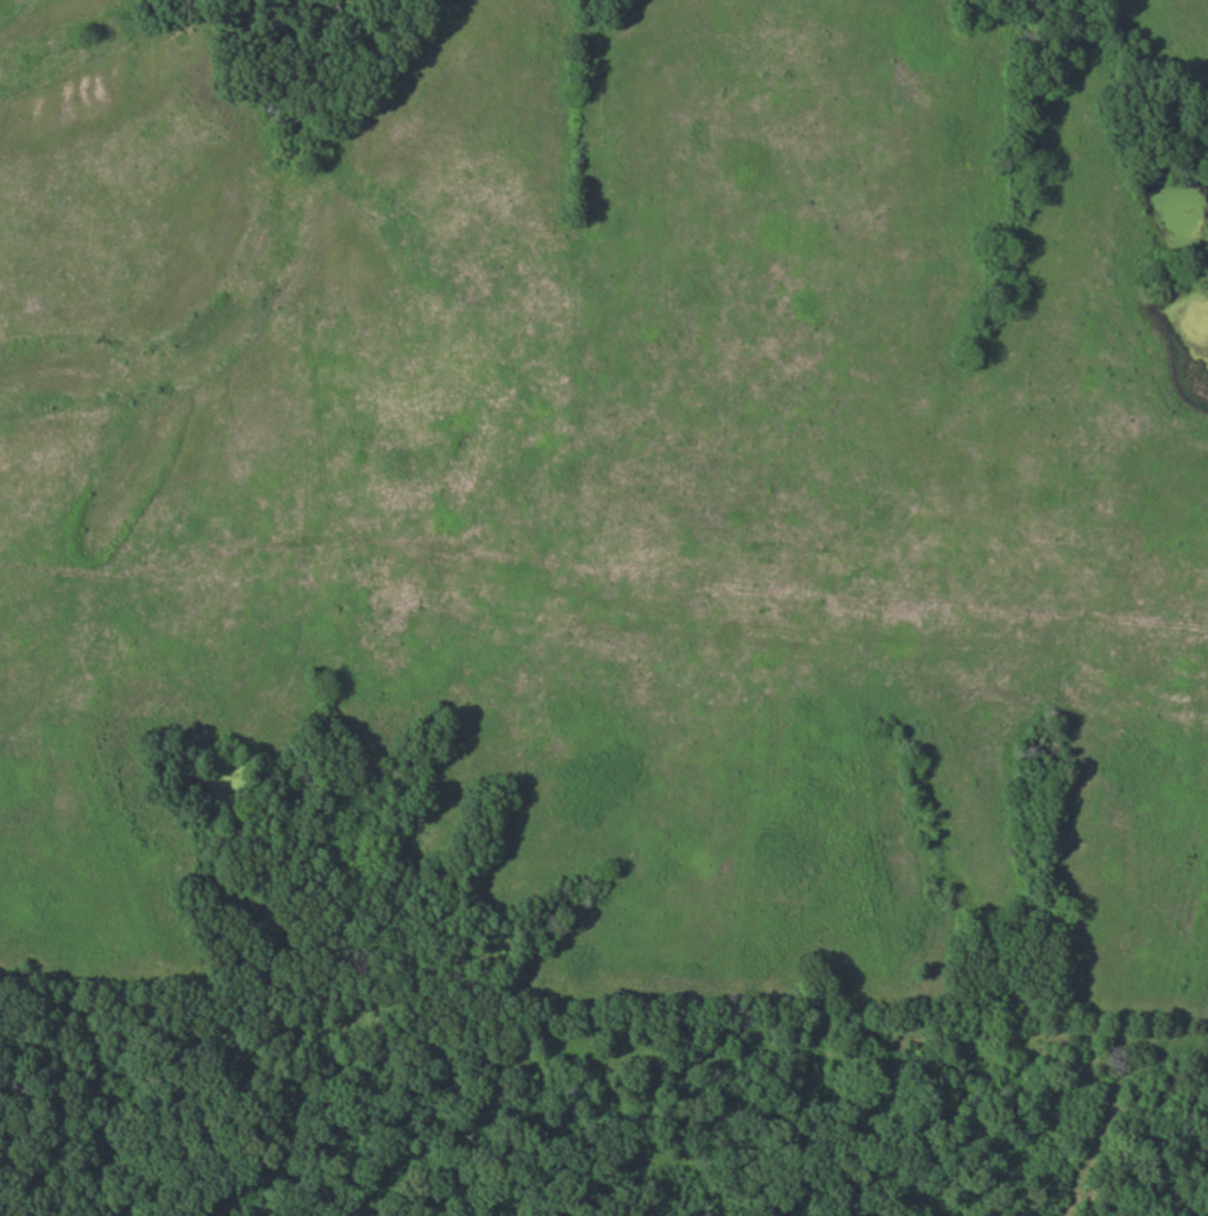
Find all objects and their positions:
building: (1207, 756)

